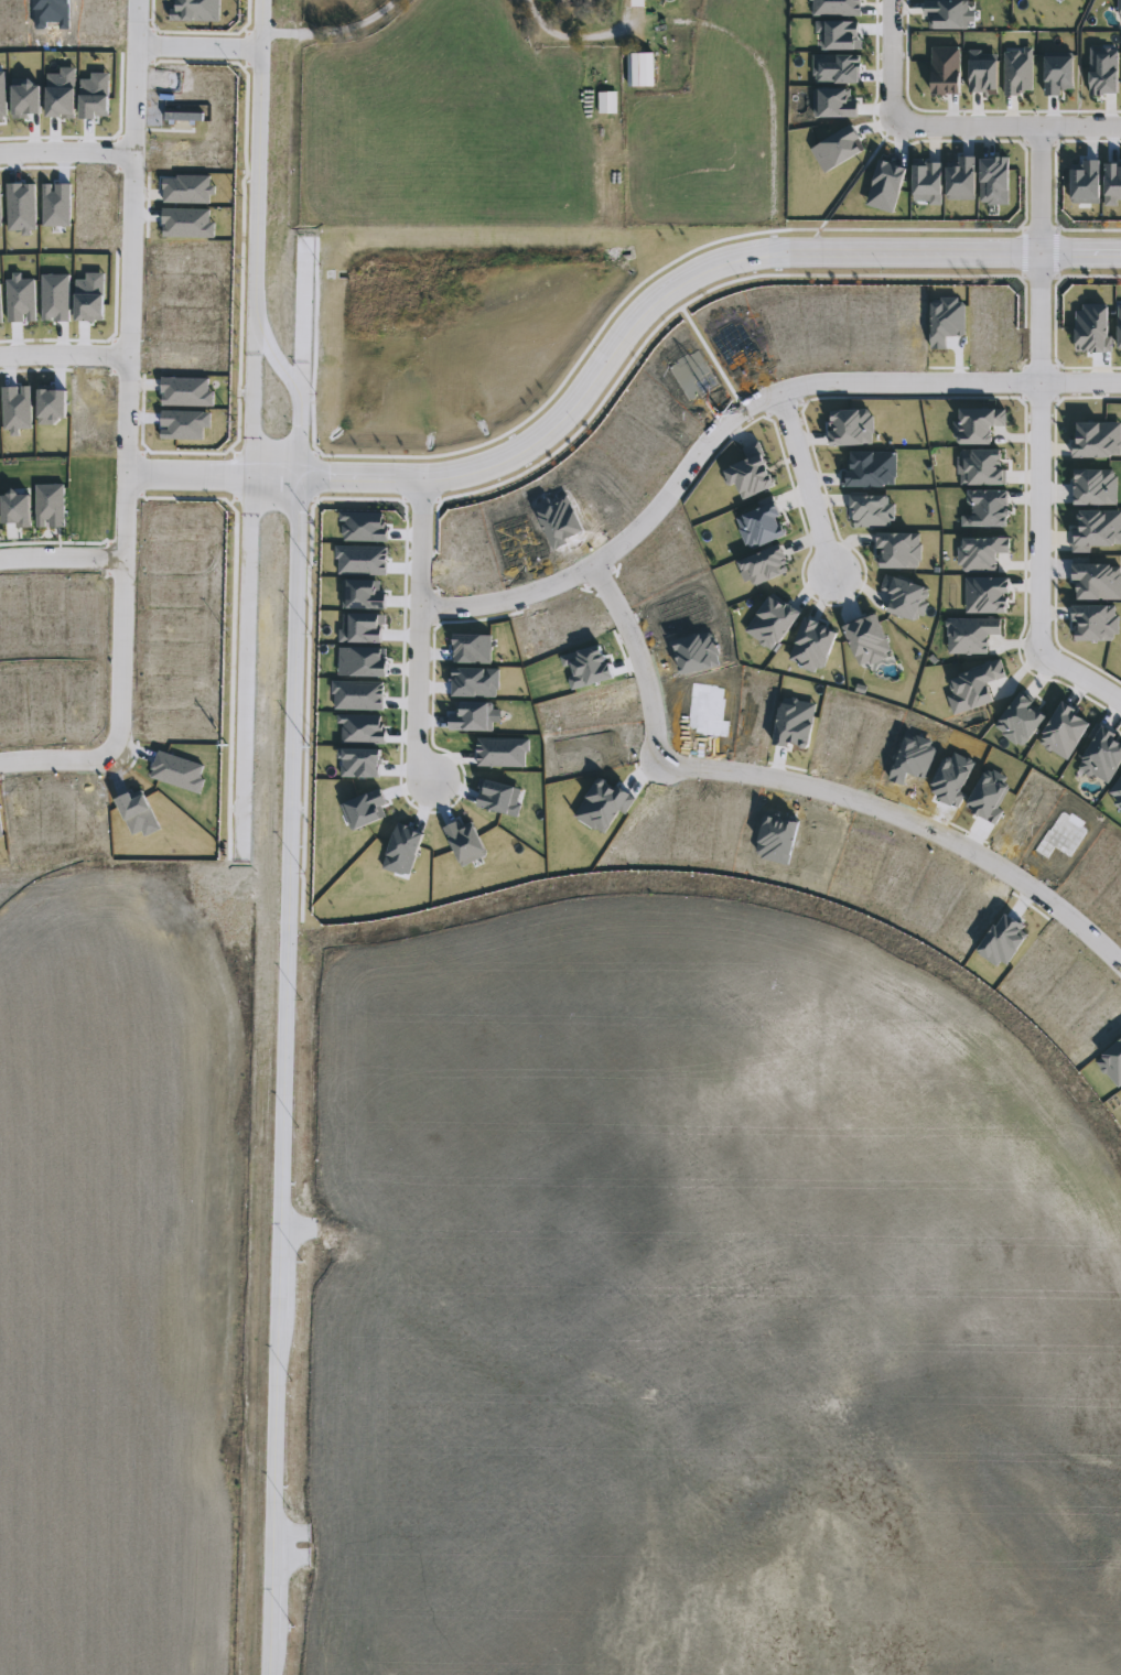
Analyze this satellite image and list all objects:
building: (574, 3)
road: (330, 32)
road: (574, 35)
road: (198, 46)
road: (890, 60)
building: (640, 68)
road: (1007, 126)
road: (67, 153)
road: (258, 244)
road: (1046, 257)
road: (673, 292)
road: (64, 354)
road: (129, 377)
road: (256, 406)
road: (694, 469)
road: (213, 476)
road: (807, 486)
road: (62, 558)
road: (1038, 566)
road: (422, 696)
road: (56, 760)
road: (810, 790)
road: (283, 1077)
crop: (116, 1261)
crop: (705, 1297)

